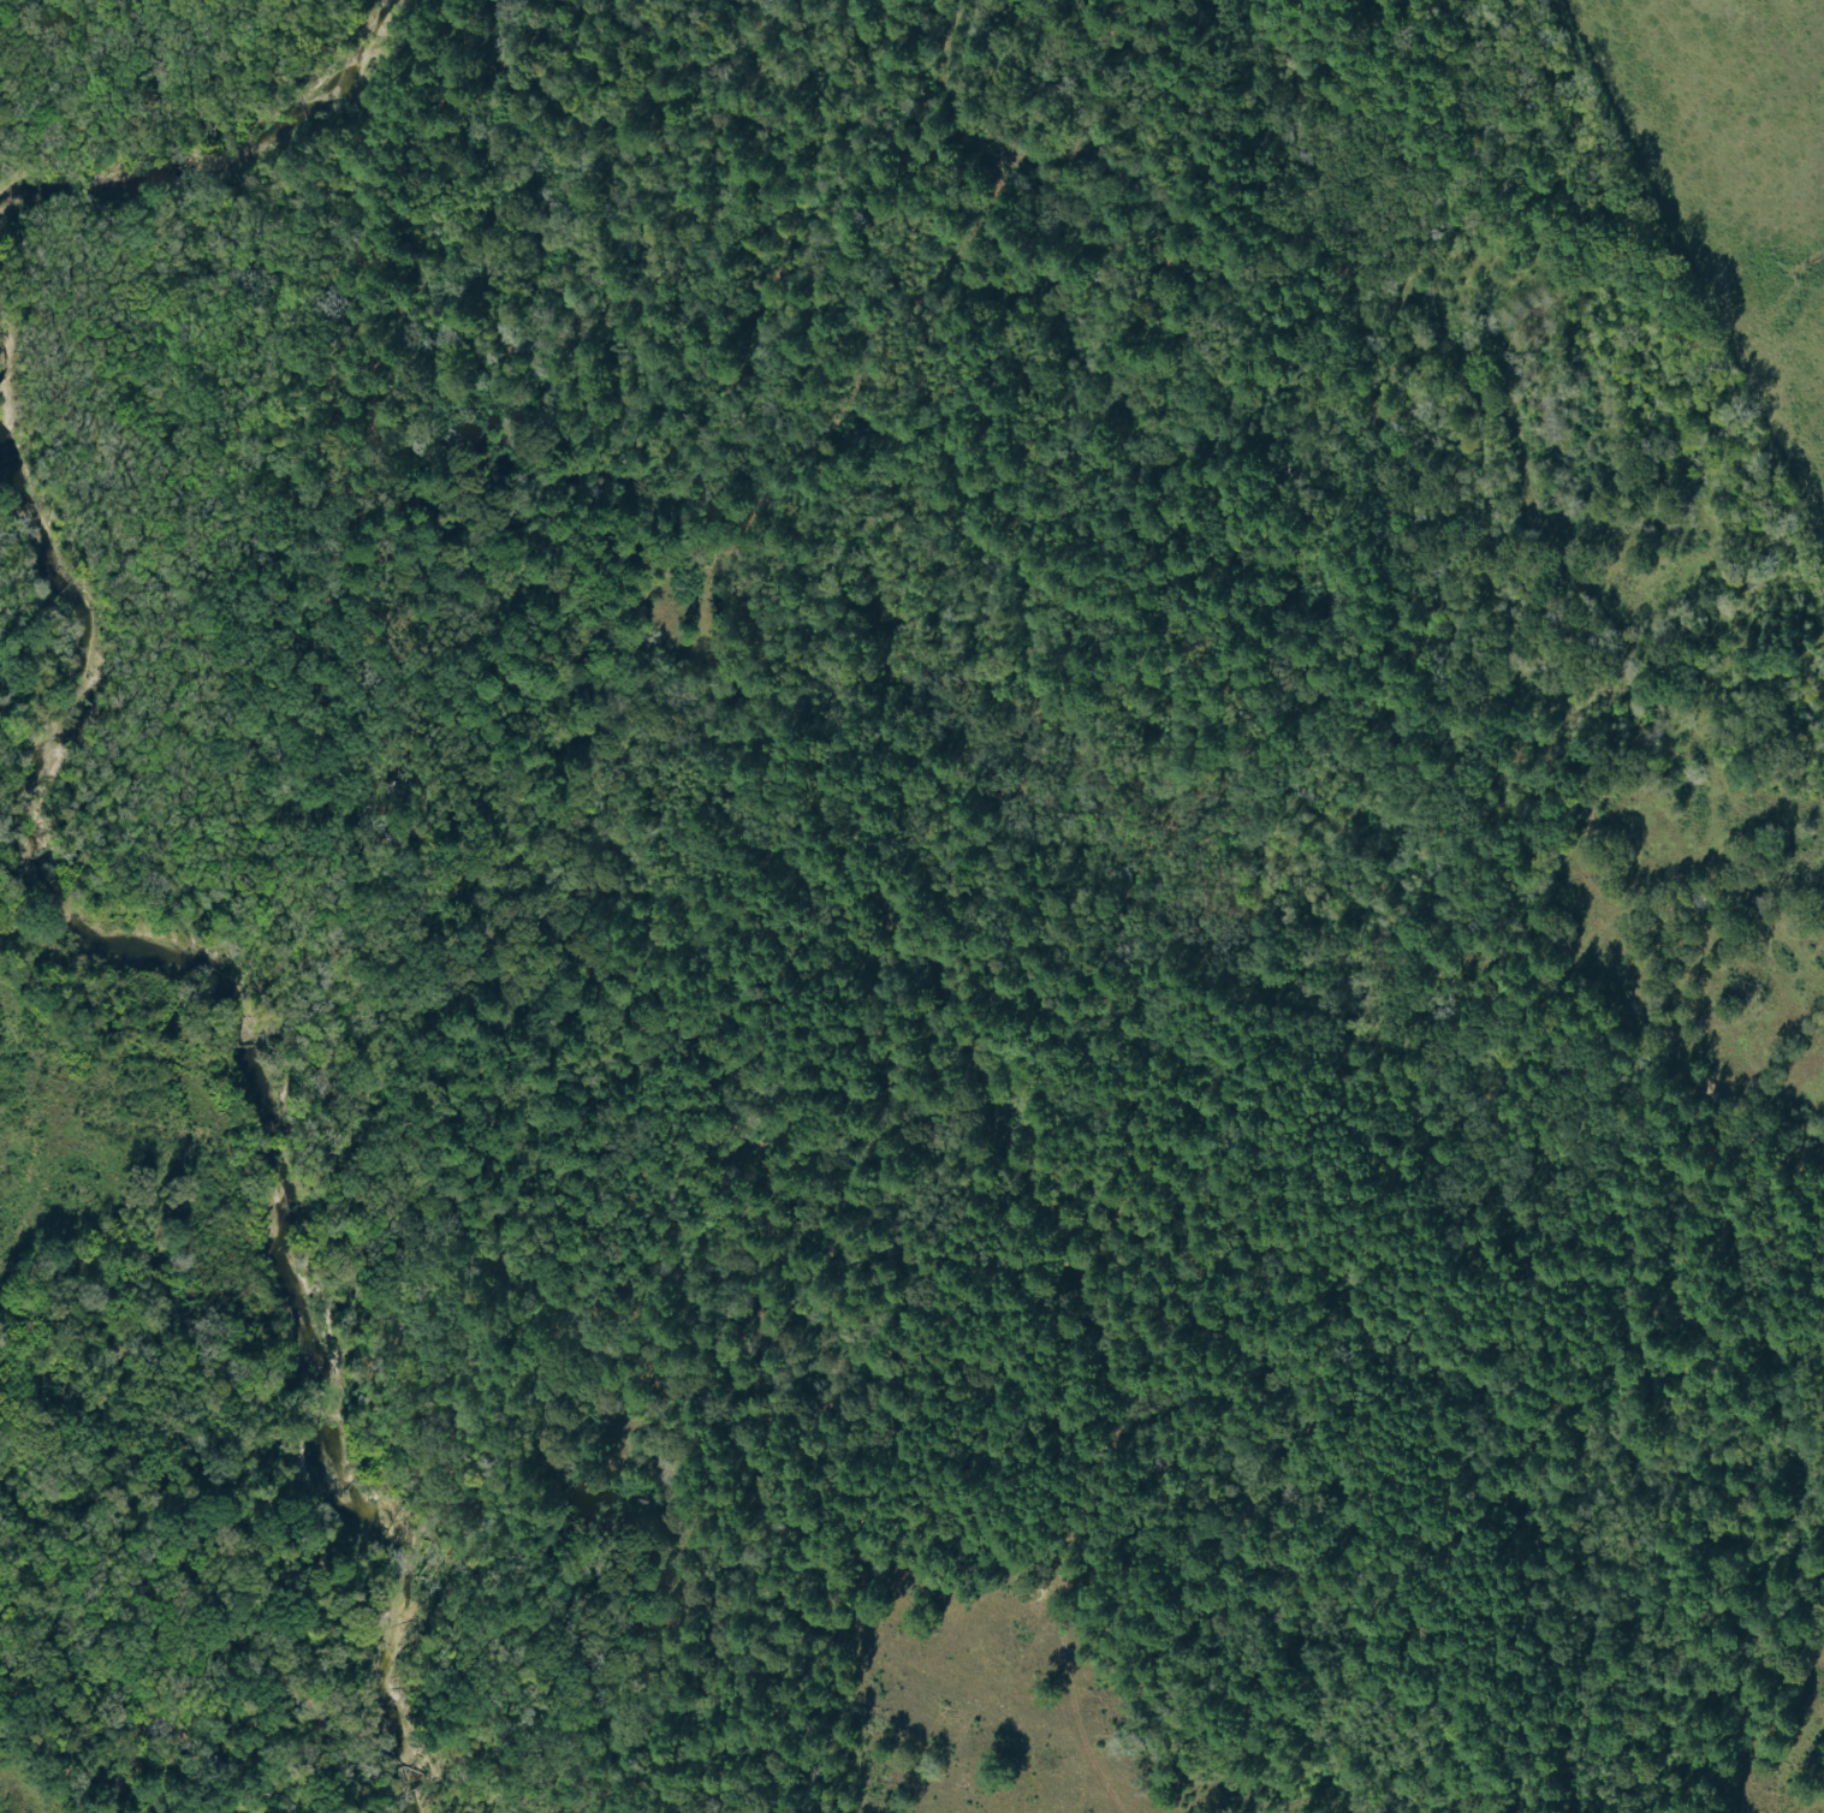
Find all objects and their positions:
river: (216, 143)
river: (238, 1026)

